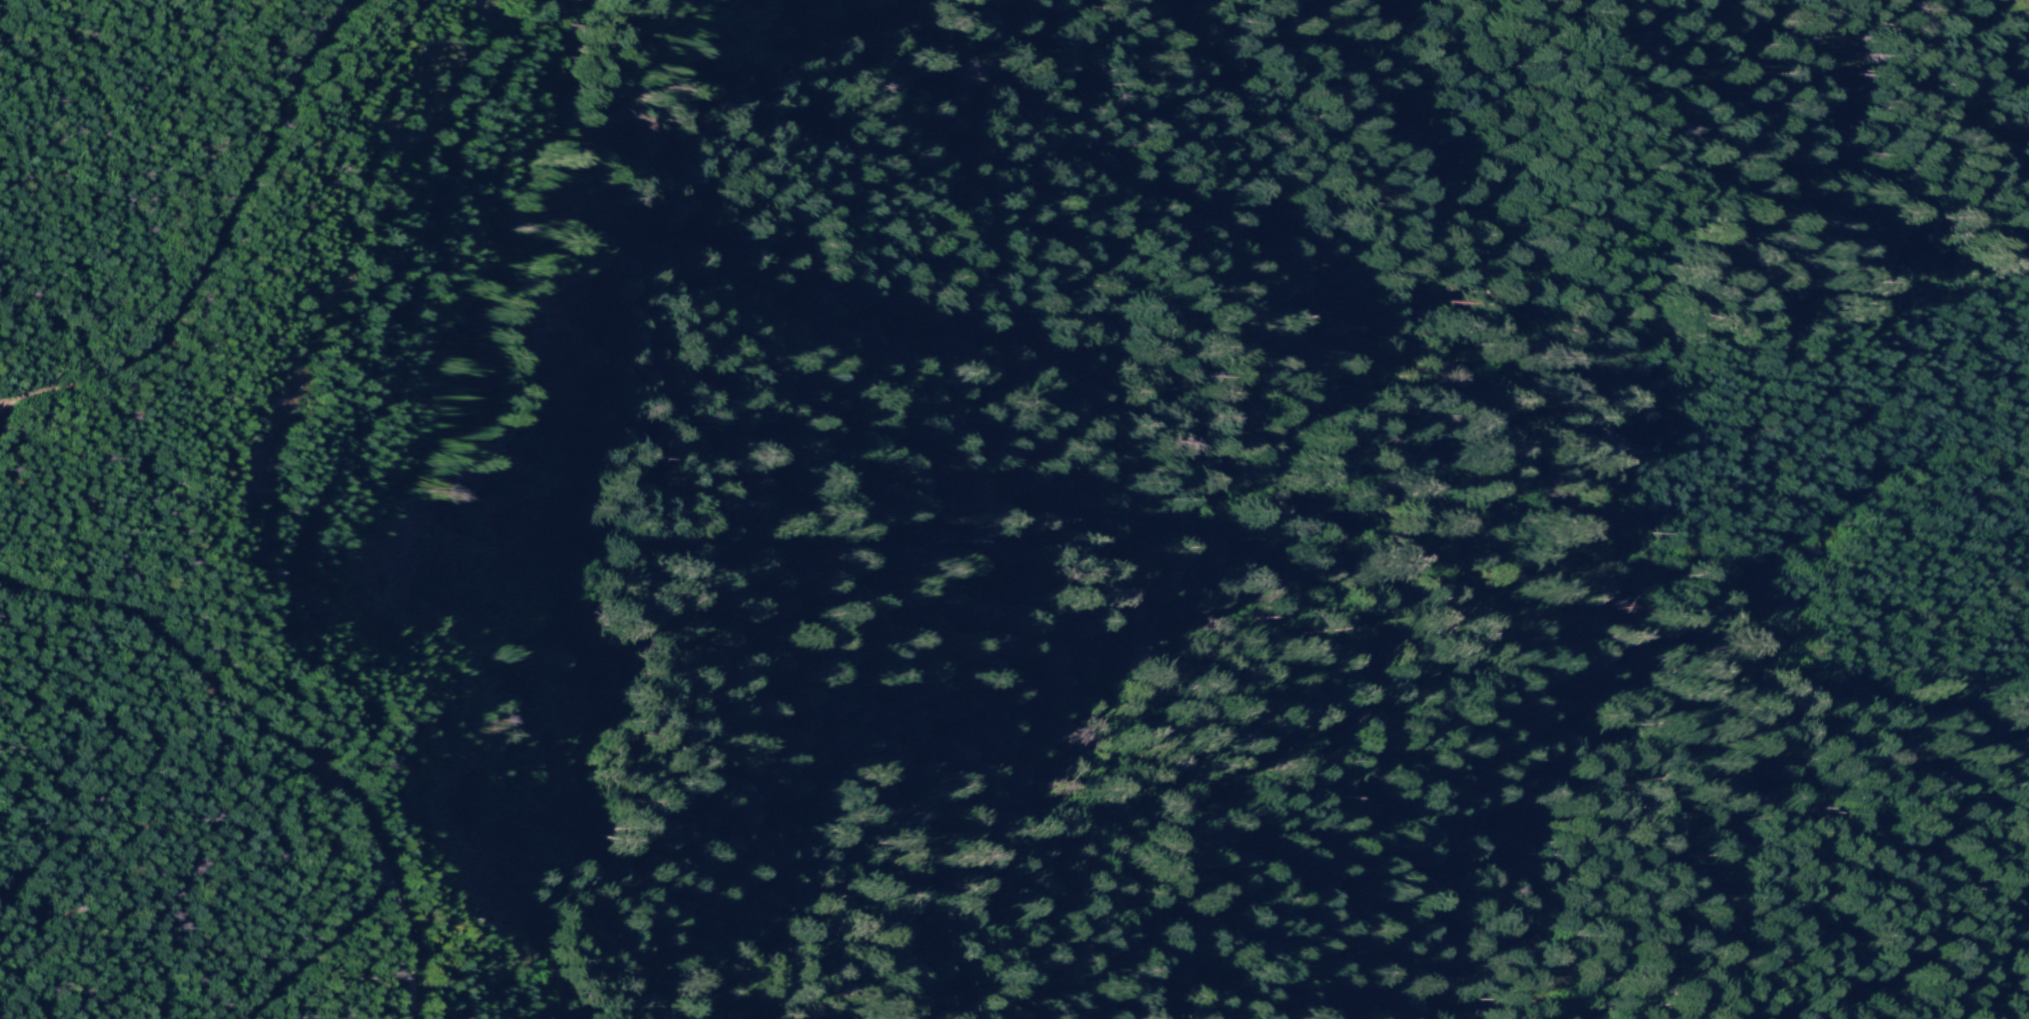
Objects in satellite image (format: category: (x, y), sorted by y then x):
road: (170, 814)

